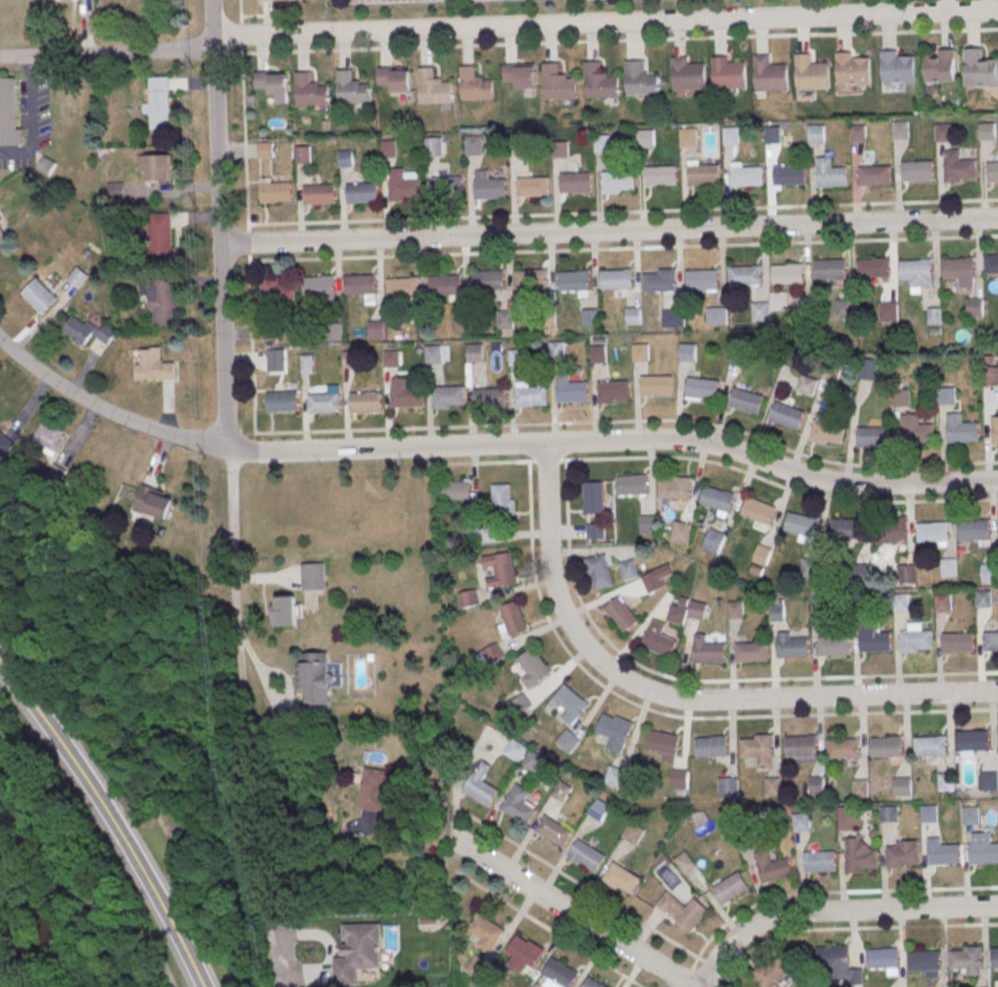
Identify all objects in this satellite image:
building: (272, 0)
road: (211, 21)
road: (604, 23)
road: (240, 26)
road: (106, 52)
building: (941, 66)
building: (896, 67)
building: (852, 68)
building: (980, 69)
building: (729, 72)
building: (811, 72)
building: (688, 73)
building: (769, 73)
building: (520, 74)
building: (395, 76)
building: (640, 78)
building: (599, 81)
building: (475, 82)
building: (272, 83)
building: (558, 83)
building: (433, 87)
building: (351, 89)
building: (309, 90)
building: (158, 102)
building: (10, 114)
building: (900, 130)
building: (987, 132)
building: (943, 133)
building: (858, 134)
building: (817, 135)
road: (244, 136)
building: (731, 137)
building: (773, 137)
building: (688, 138)
building: (646, 139)
building: (518, 145)
building: (602, 145)
building: (433, 147)
building: (475, 147)
building: (388, 149)
building: (560, 149)
building: (266, 151)
building: (303, 155)
building: (346, 160)
building: (157, 167)
building: (960, 167)
building: (917, 170)
building: (992, 171)
building: (789, 173)
building: (661, 174)
building: (703, 174)
building: (874, 175)
building: (746, 176)
building: (831, 176)
building: (618, 179)
building: (575, 181)
building: (403, 186)
building: (448, 186)
building: (532, 186)
building: (490, 187)
building: (362, 191)
building: (276, 193)
building: (319, 193)
road: (608, 230)
building: (2, 234)
building: (160, 236)
road: (247, 242)
road: (327, 257)
building: (991, 263)
building: (873, 267)
building: (958, 267)
building: (916, 268)
building: (830, 269)
building: (745, 274)
building: (787, 274)
building: (78, 276)
building: (617, 278)
building: (491, 279)
building: (531, 279)
building: (702, 279)
building: (574, 280)
building: (659, 281)
building: (360, 283)
building: (446, 284)
building: (318, 286)
building: (403, 286)
building: (278, 290)
building: (40, 296)
building: (161, 298)
building: (779, 302)
building: (975, 308)
building: (844, 310)
building: (760, 312)
building: (888, 312)
building: (634, 317)
building: (716, 317)
building: (590, 318)
building: (547, 319)
building: (673, 319)
building: (505, 320)
building: (463, 324)
building: (376, 330)
building: (87, 331)
building: (271, 332)
building: (334, 332)
building: (557, 351)
building: (687, 351)
building: (475, 353)
building: (640, 353)
building: (598, 354)
building: (434, 355)
building: (516, 358)
building: (392, 359)
building: (351, 360)
building: (276, 361)
building: (308, 364)
building: (154, 366)
building: (990, 378)
building: (656, 385)
building: (806, 385)
building: (702, 389)
building: (572, 390)
building: (614, 390)
building: (448, 395)
building: (531, 395)
building: (406, 397)
building: (490, 397)
building: (946, 397)
building: (901, 398)
building: (282, 400)
building: (365, 401)
building: (745, 401)
building: (324, 402)
road: (168, 406)
building: (787, 416)
building: (960, 430)
building: (916, 431)
building: (994, 431)
building: (826, 433)
building: (48, 437)
building: (872, 438)
road: (487, 444)
building: (5, 445)
road: (483, 462)
road: (832, 463)
road: (528, 470)
building: (631, 484)
road: (780, 485)
building: (674, 487)
building: (457, 490)
building: (503, 498)
building: (594, 499)
building: (717, 499)
building: (153, 502)
building: (757, 513)
road: (233, 516)
building: (646, 524)
building: (800, 526)
building: (847, 528)
building: (594, 530)
building: (891, 530)
building: (974, 531)
building: (680, 532)
building: (932, 533)
building: (485, 534)
building: (713, 540)
building: (761, 554)
building: (948, 567)
building: (500, 568)
building: (628, 568)
building: (600, 572)
building: (988, 572)
building: (314, 577)
building: (983, 598)
building: (469, 599)
building: (942, 602)
building: (734, 609)
building: (685, 610)
building: (776, 612)
building: (285, 613)
building: (620, 613)
building: (514, 619)
building: (914, 638)
building: (658, 639)
building: (874, 641)
building: (957, 641)
building: (990, 641)
building: (833, 645)
building: (792, 647)
building: (707, 650)
building: (751, 651)
building: (494, 654)
building: (534, 668)
building: (314, 678)
road: (676, 698)
building: (571, 704)
building: (521, 705)
building: (615, 732)
building: (972, 739)
building: (569, 742)
building: (661, 744)
building: (711, 745)
building: (886, 745)
building: (930, 745)
building: (801, 747)
building: (842, 747)
building: (757, 749)
building: (515, 751)
building: (531, 761)
park: (114, 773)
building: (616, 778)
building: (679, 779)
building: (987, 780)
building: (945, 782)
building: (815, 784)
building: (771, 785)
building: (901, 785)
building: (726, 786)
building: (479, 787)
building: (859, 787)
building: (560, 790)
building: (374, 791)
building: (517, 804)
building: (598, 809)
building: (887, 813)
building: (927, 813)
building: (969, 815)
road: (110, 817)
building: (799, 820)
building: (845, 820)
building: (551, 830)
building: (632, 833)
road: (408, 852)
building: (983, 852)
building: (943, 853)
building: (584, 855)
building: (900, 855)
building: (859, 857)
building: (817, 860)
building: (683, 861)
building: (771, 867)
road: (66, 870)
building: (619, 877)
road: (576, 882)
building: (729, 887)
road: (834, 891)
building: (682, 910)
road: (833, 911)
road: (569, 912)
river: (46, 926)
road: (834, 927)
road: (548, 929)
building: (485, 932)
building: (359, 953)
building: (523, 953)
building: (880, 957)
building: (994, 957)
building: (966, 959)
building: (922, 960)
building: (837, 965)
building: (479, 968)
building: (557, 973)
building: (770, 973)
building: (592, 982)
road: (730, 982)

